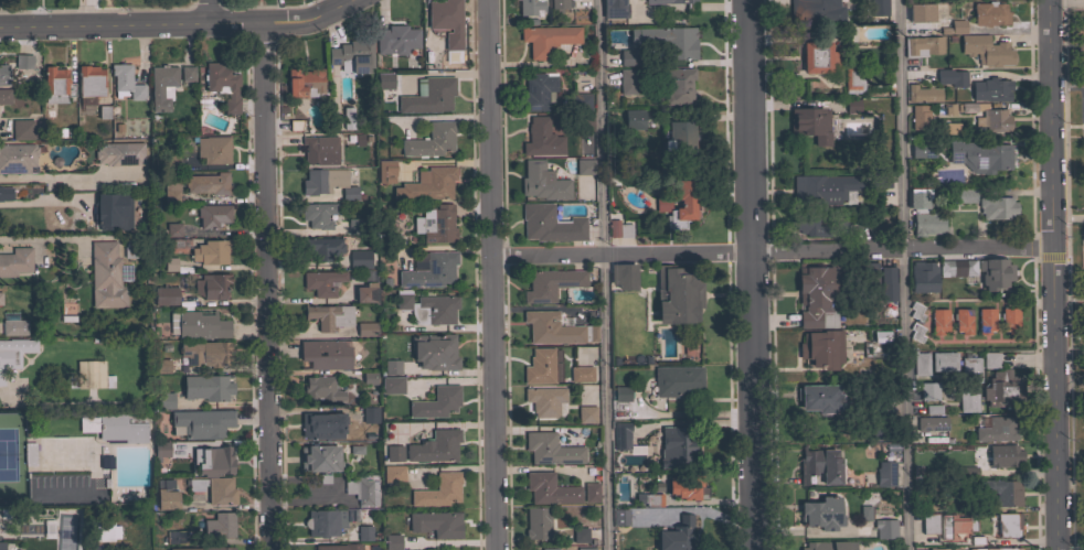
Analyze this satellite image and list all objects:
building: (667, 1)
building: (559, 4)
building: (530, 7)
building: (878, 8)
building: (615, 9)
road: (209, 10)
building: (821, 10)
building: (921, 12)
building: (989, 13)
building: (446, 21)
road: (178, 22)
building: (955, 28)
building: (396, 40)
building: (549, 40)
building: (667, 40)
building: (922, 46)
building: (986, 51)
building: (352, 55)
building: (630, 57)
building: (818, 57)
building: (23, 62)
building: (1082, 65)
building: (3, 73)
building: (187, 73)
road: (1012, 75)
building: (950, 77)
building: (630, 79)
building: (853, 79)
building: (91, 80)
building: (125, 82)
building: (381, 82)
building: (306, 83)
building: (222, 84)
building: (56, 85)
building: (162, 85)
building: (677, 85)
building: (990, 89)
building: (536, 91)
building: (921, 93)
building: (429, 96)
building: (4, 97)
building: (581, 101)
building: (851, 105)
building: (1083, 115)
building: (920, 117)
building: (348, 118)
building: (633, 119)
building: (995, 120)
building: (583, 122)
building: (810, 123)
building: (22, 130)
building: (679, 137)
building: (542, 138)
building: (431, 140)
building: (213, 149)
building: (922, 149)
building: (320, 150)
building: (120, 153)
building: (980, 155)
building: (17, 158)
building: (171, 161)
building: (585, 166)
building: (386, 171)
road: (63, 177)
building: (880, 181)
building: (542, 182)
building: (328, 183)
building: (209, 184)
building: (428, 184)
building: (822, 187)
building: (171, 193)
building: (4, 194)
building: (582, 195)
building: (961, 195)
road: (43, 203)
building: (686, 203)
building: (996, 207)
building: (109, 211)
building: (318, 214)
building: (213, 215)
building: (923, 215)
building: (805, 224)
building: (436, 225)
building: (550, 225)
building: (355, 226)
building: (618, 228)
building: (173, 229)
building: (322, 248)
building: (130, 249)
road: (773, 250)
building: (210, 252)
building: (360, 259)
building: (17, 262)
building: (170, 265)
building: (956, 268)
building: (432, 271)
building: (995, 273)
road: (490, 274)
road: (602, 274)
road: (754, 274)
road: (903, 274)
road: (1056, 274)
building: (623, 276)
building: (106, 277)
building: (869, 277)
building: (923, 277)
building: (322, 282)
building: (551, 283)
road: (267, 284)
building: (888, 284)
building: (211, 287)
building: (365, 292)
building: (166, 295)
building: (677, 295)
building: (817, 296)
building: (0, 299)
building: (426, 309)
building: (915, 311)
building: (329, 316)
building: (1010, 320)
building: (938, 321)
building: (963, 321)
building: (986, 321)
building: (198, 325)
building: (13, 327)
building: (366, 328)
building: (556, 328)
building: (915, 332)
building: (881, 336)
building: (822, 348)
building: (434, 352)
building: (13, 353)
building: (205, 353)
building: (326, 355)
building: (991, 360)
building: (944, 362)
building: (921, 363)
building: (161, 366)
building: (541, 366)
building: (392, 367)
building: (970, 369)
building: (582, 374)
building: (92, 375)
building: (369, 378)
building: (678, 381)
building: (392, 385)
building: (206, 388)
building: (321, 389)
building: (928, 390)
building: (1003, 390)
building: (621, 393)
building: (820, 399)
building: (968, 399)
building: (163, 400)
building: (544, 400)
building: (436, 402)
building: (929, 411)
building: (370, 414)
building: (586, 414)
building: (201, 423)
building: (932, 423)
building: (115, 425)
building: (322, 425)
building: (995, 429)
building: (879, 430)
building: (620, 435)
building: (932, 438)
building: (676, 445)
building: (435, 446)
building: (161, 450)
building: (551, 450)
building: (394, 453)
building: (30, 454)
building: (1003, 455)
building: (213, 461)
building: (320, 461)
building: (107, 462)
park: (6, 464)
building: (821, 466)
building: (968, 471)
building: (394, 473)
building: (885, 474)
building: (129, 484)
building: (196, 485)
building: (687, 487)
building: (550, 489)
building: (221, 490)
building: (362, 490)
building: (439, 490)
building: (1002, 492)
building: (591, 493)
building: (166, 495)
building: (649, 499)
building: (821, 514)
building: (861, 514)
building: (620, 517)
building: (328, 521)
building: (538, 522)
building: (437, 524)
building: (929, 524)
building: (956, 525)
building: (1008, 525)
building: (220, 526)
building: (885, 528)
building: (43, 530)
building: (65, 530)
building: (105, 532)
building: (364, 532)
building: (580, 535)
building: (677, 535)
building: (178, 537)
building: (387, 542)
building: (0, 546)
building: (830, 546)
building: (339, 547)
building: (549, 548)
building: (205, 549)
building: (586, 549)
building: (944, 549)
building: (999, 549)

